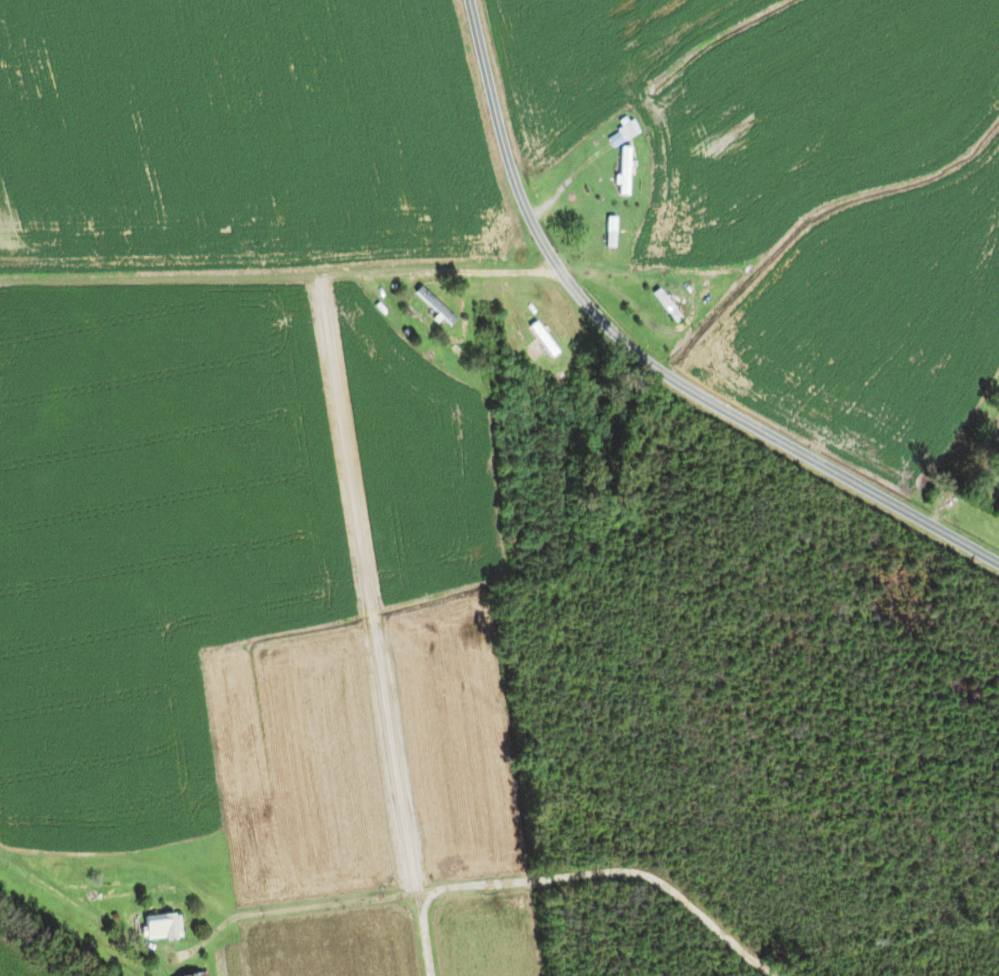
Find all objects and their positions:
building: (627, 130)
building: (625, 170)
road: (563, 186)
building: (612, 232)
road: (481, 272)
building: (436, 305)
building: (669, 307)
road: (644, 357)
road: (491, 885)
building: (163, 927)
road: (422, 929)
building: (200, 974)

